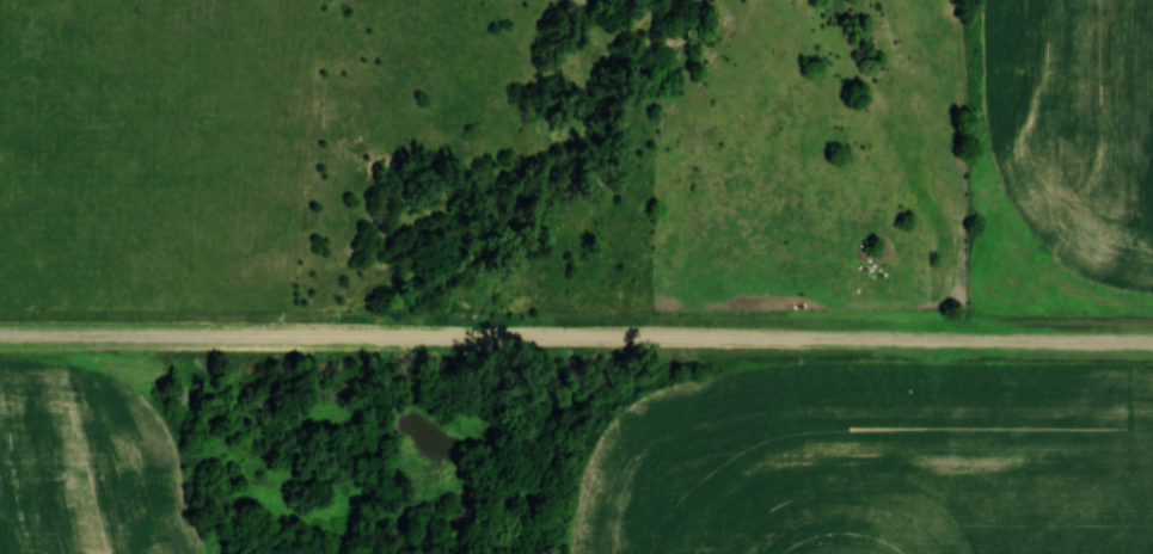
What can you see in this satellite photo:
road: (576, 345)

